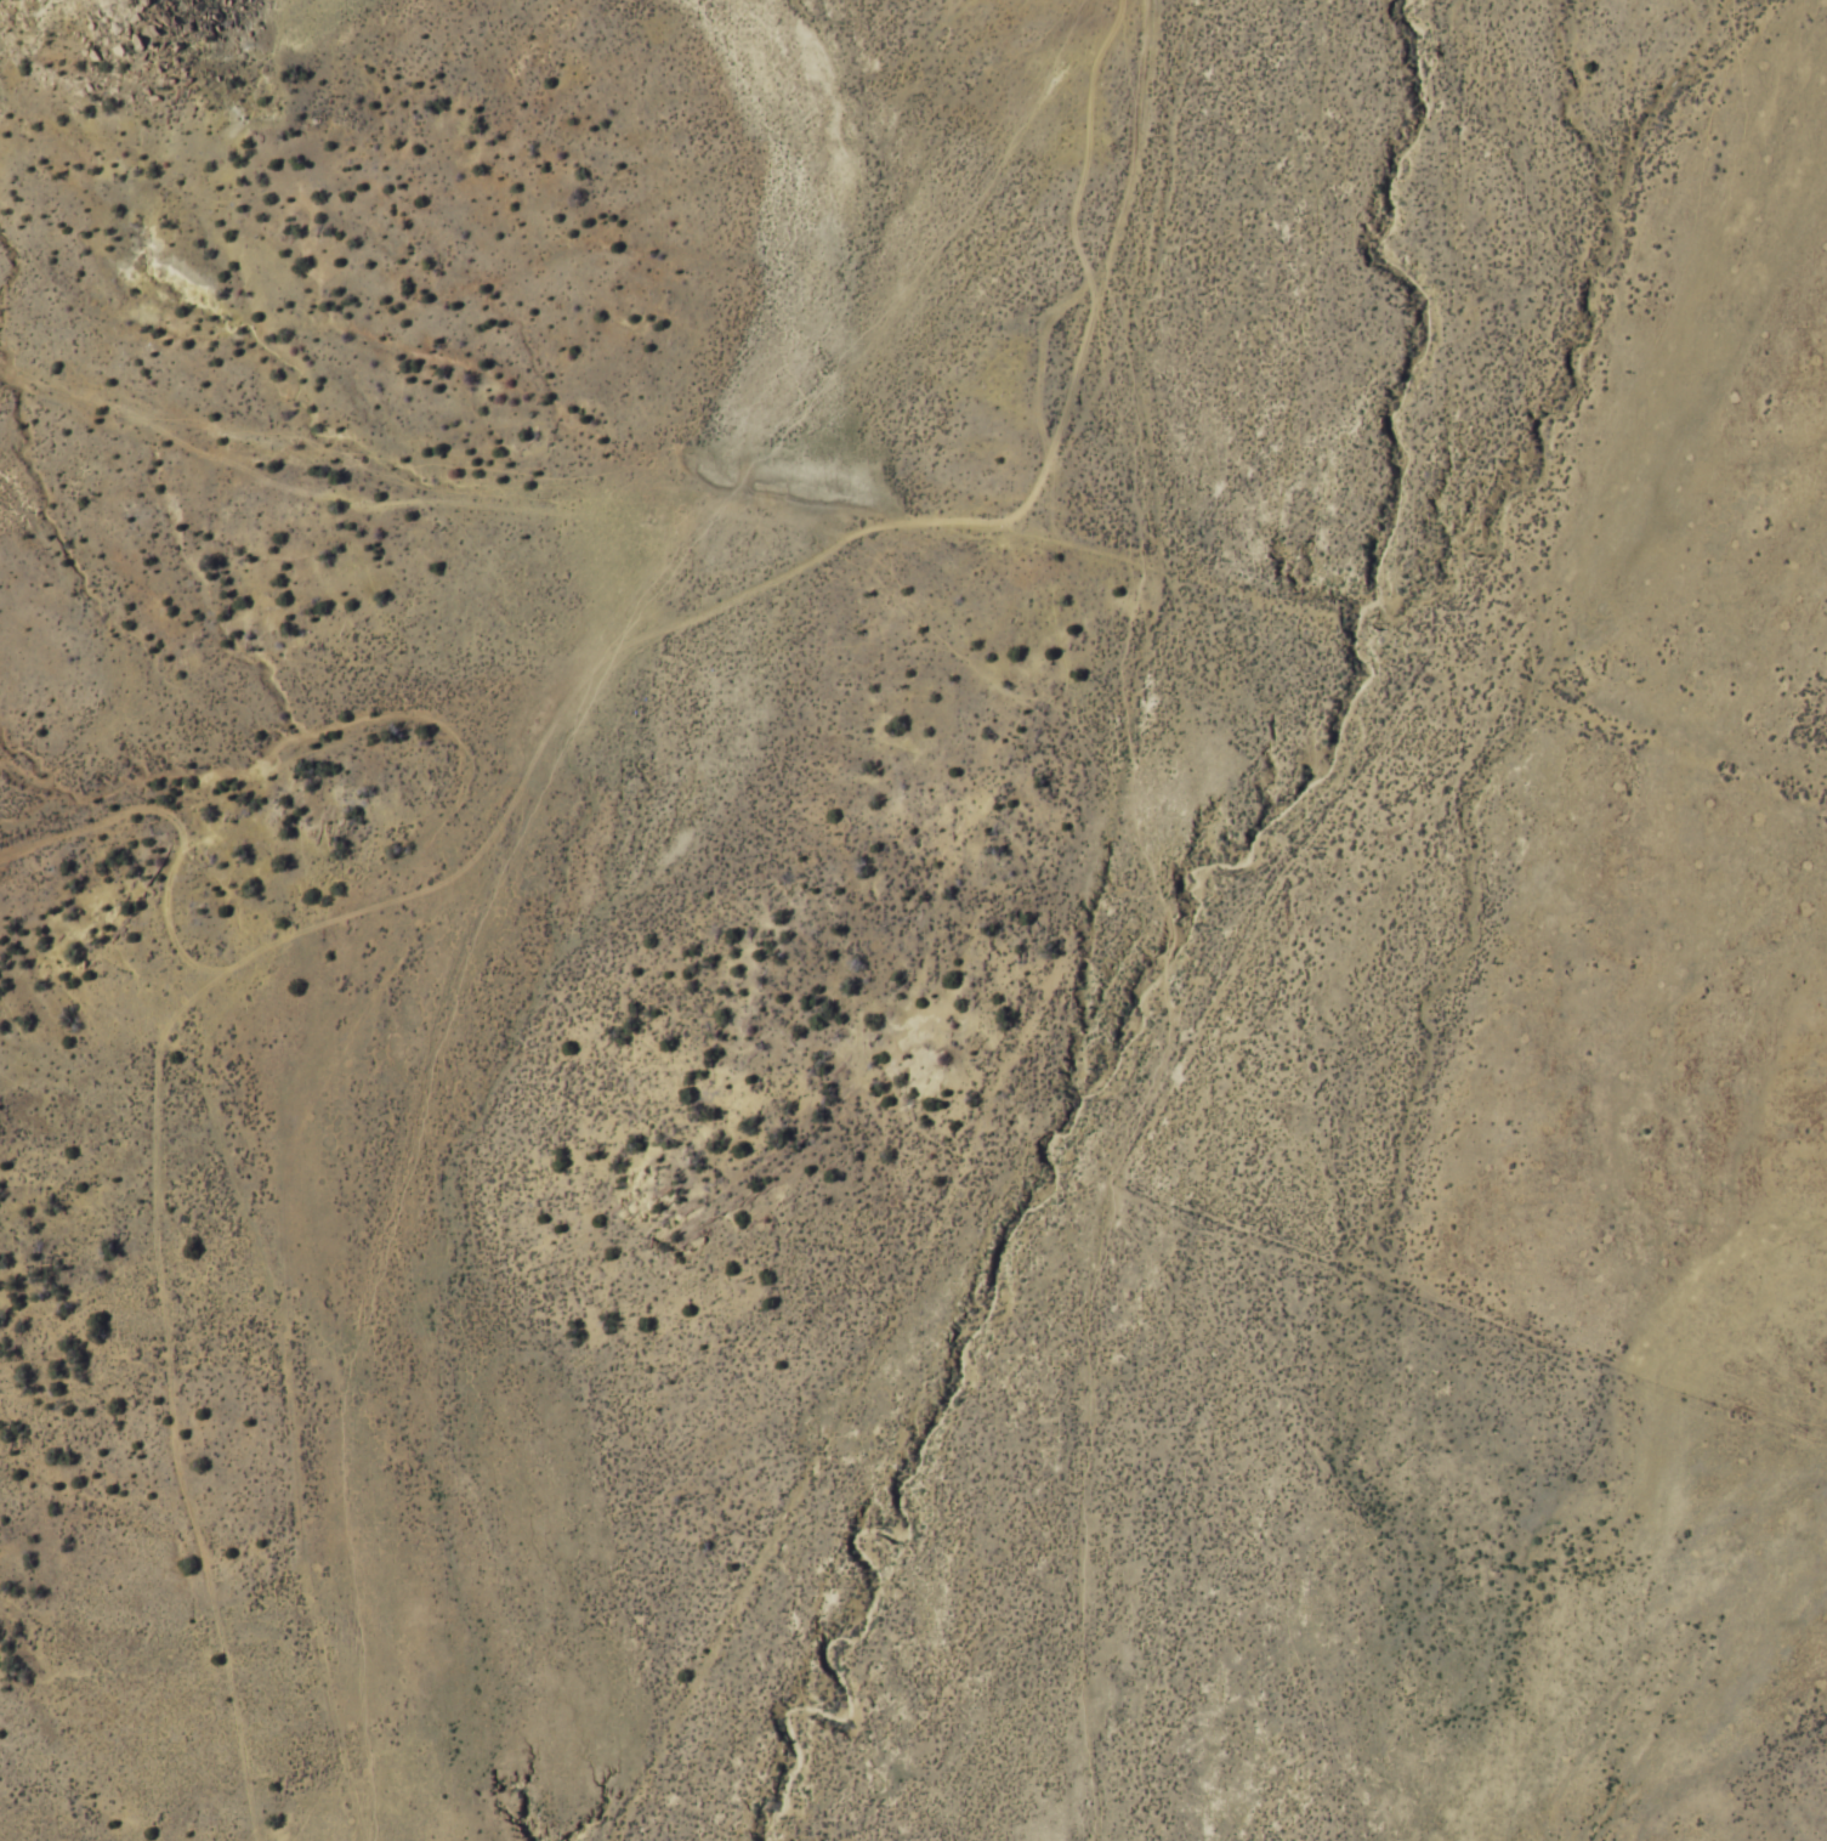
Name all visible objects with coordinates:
road: (755, 499)
road: (487, 726)
road: (938, 1143)
road: (759, 1426)

